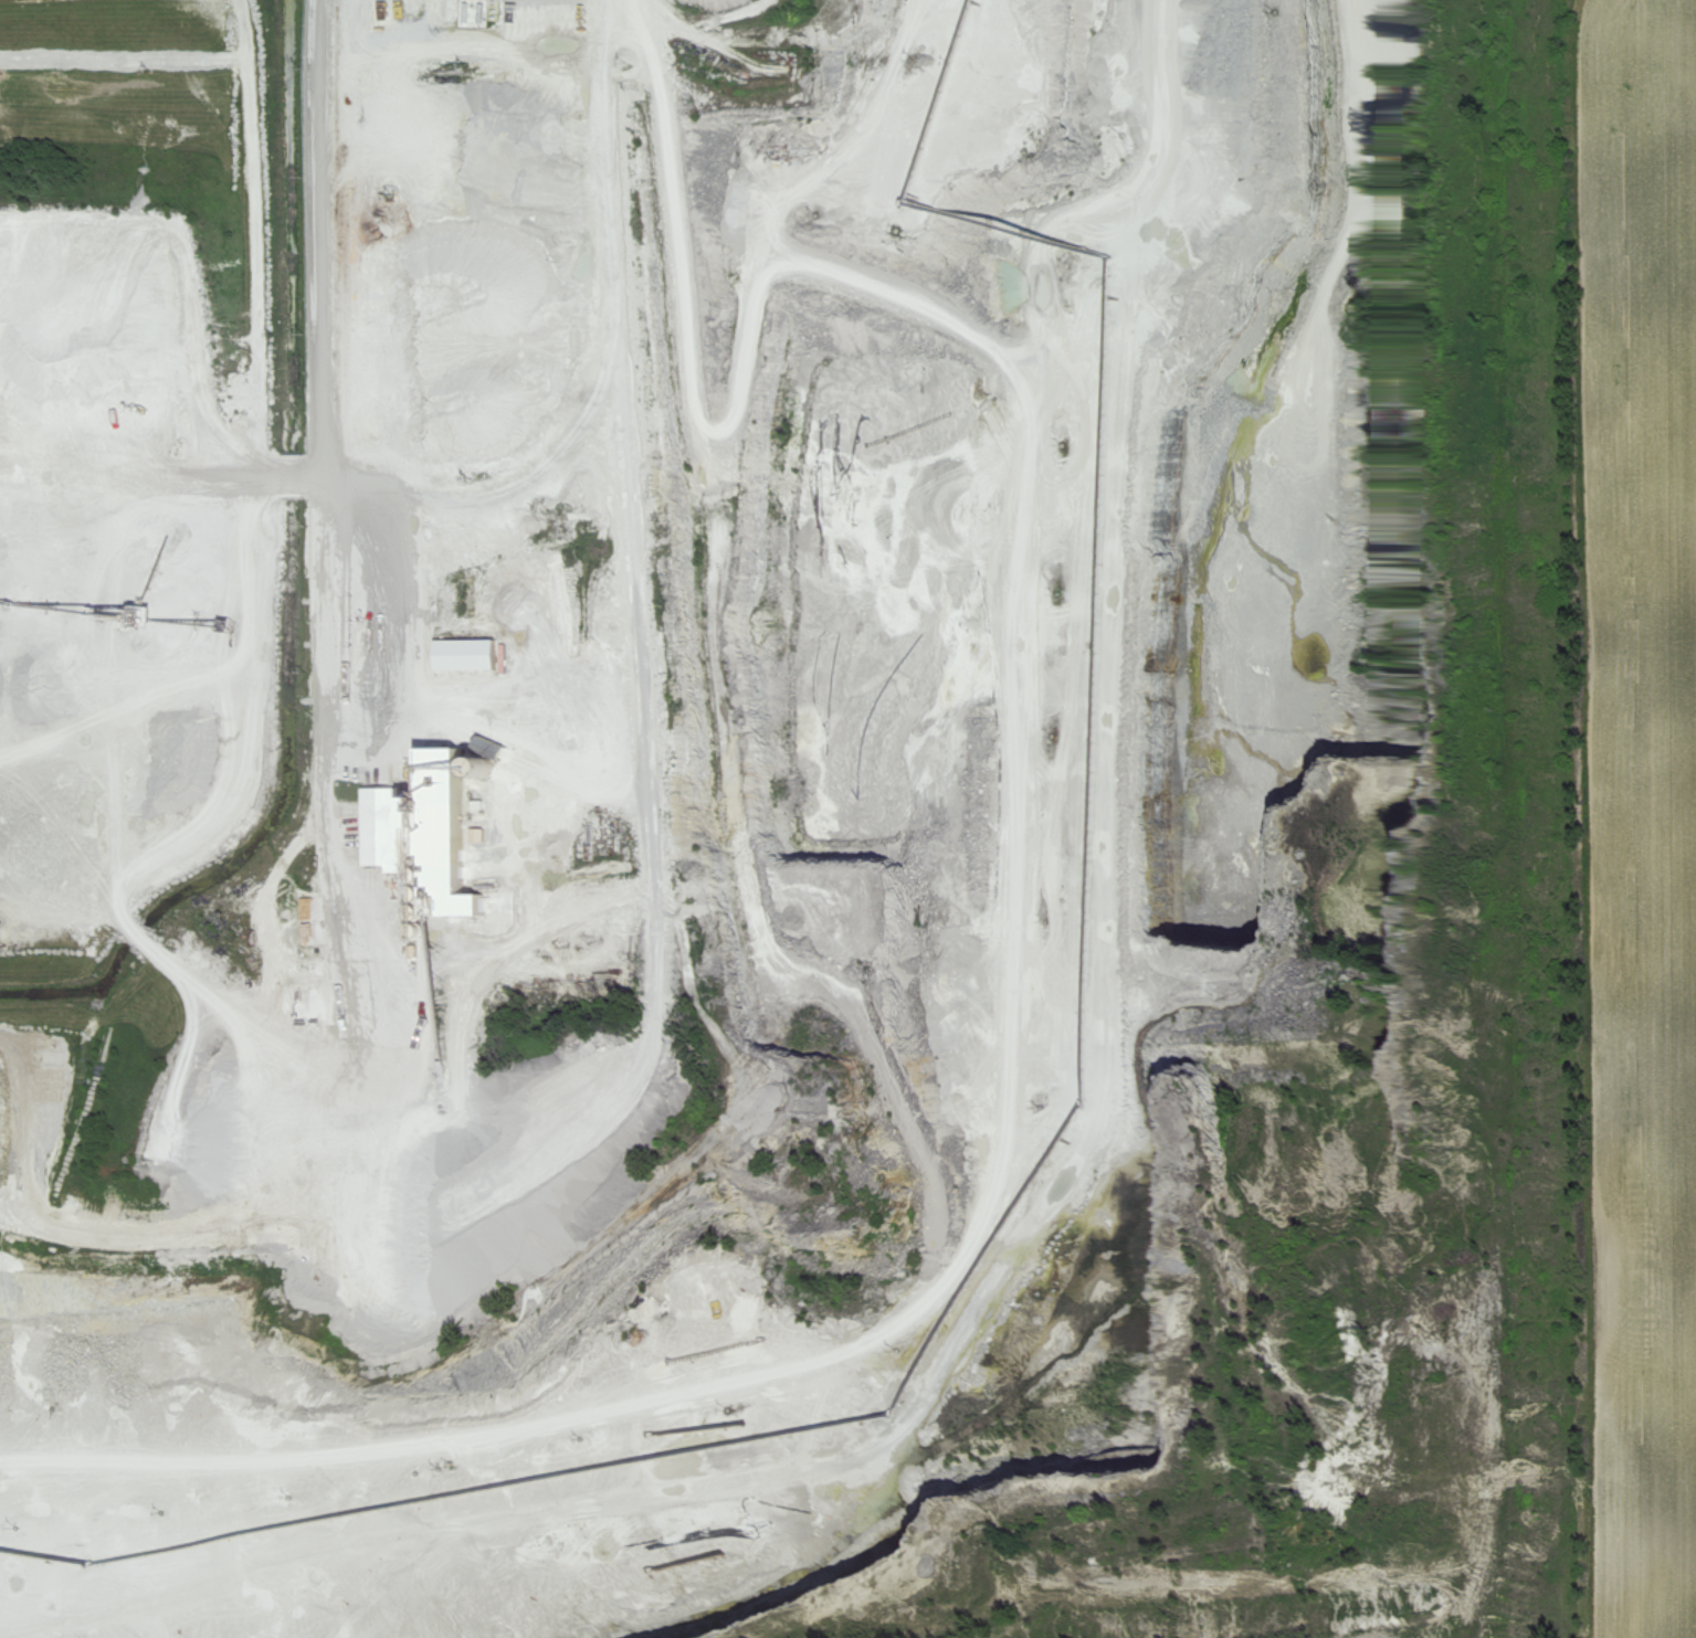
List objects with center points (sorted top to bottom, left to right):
road: (323, 347)
quarry: (146, 469)
building: (462, 655)
building: (424, 829)
quarry: (871, 864)
building: (306, 937)

